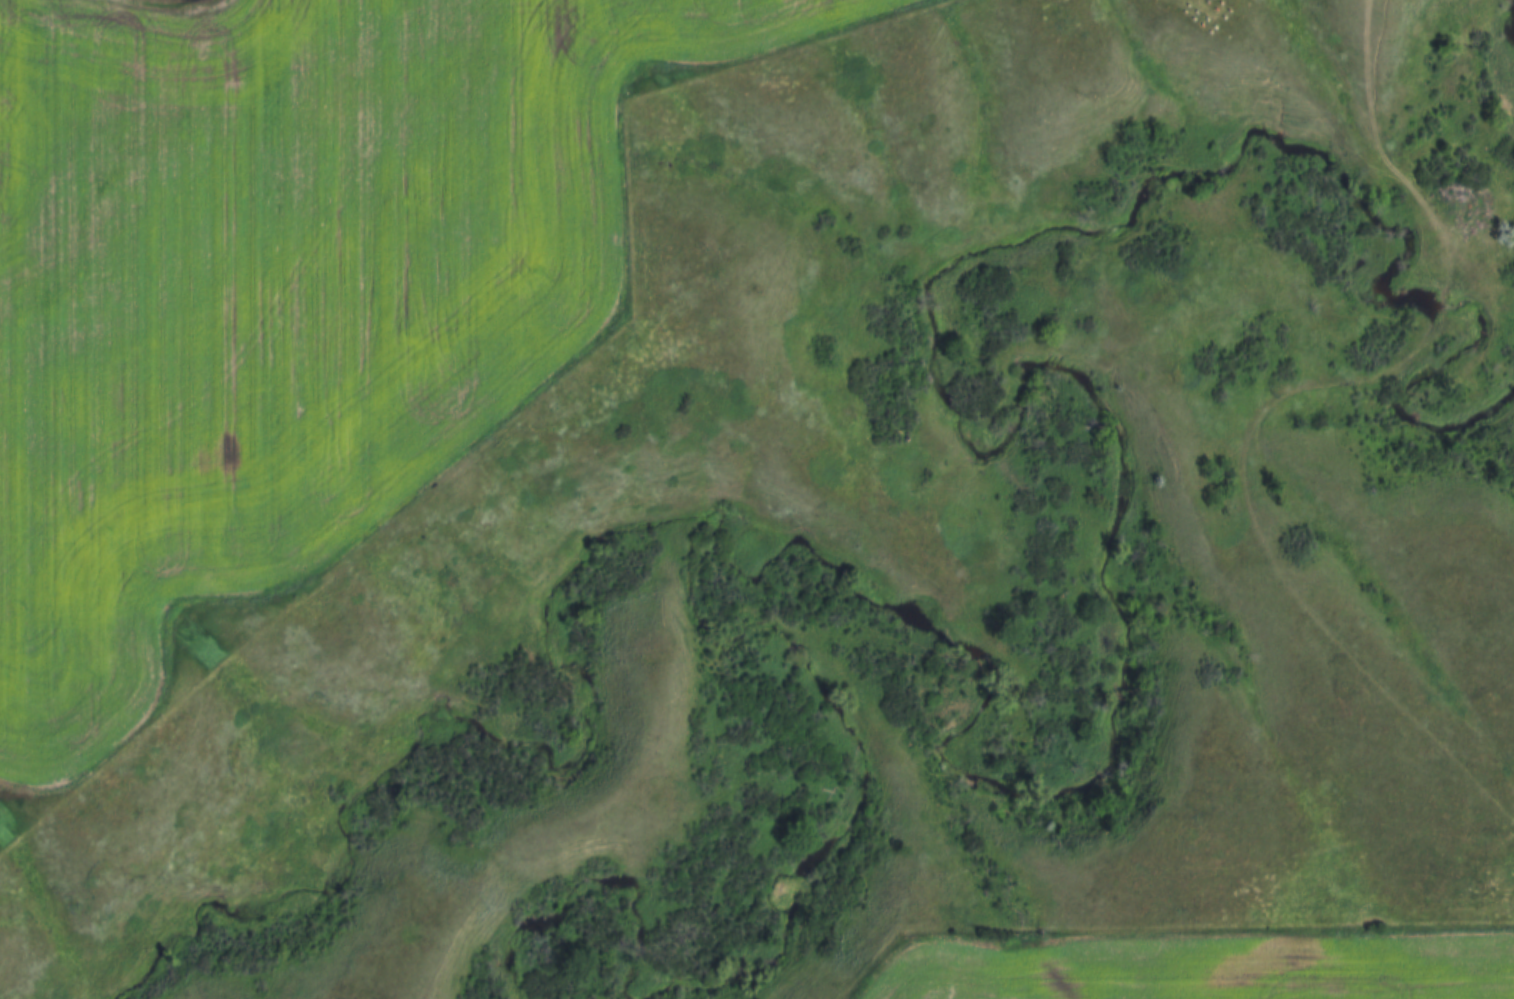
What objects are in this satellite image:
road: (1328, 372)

